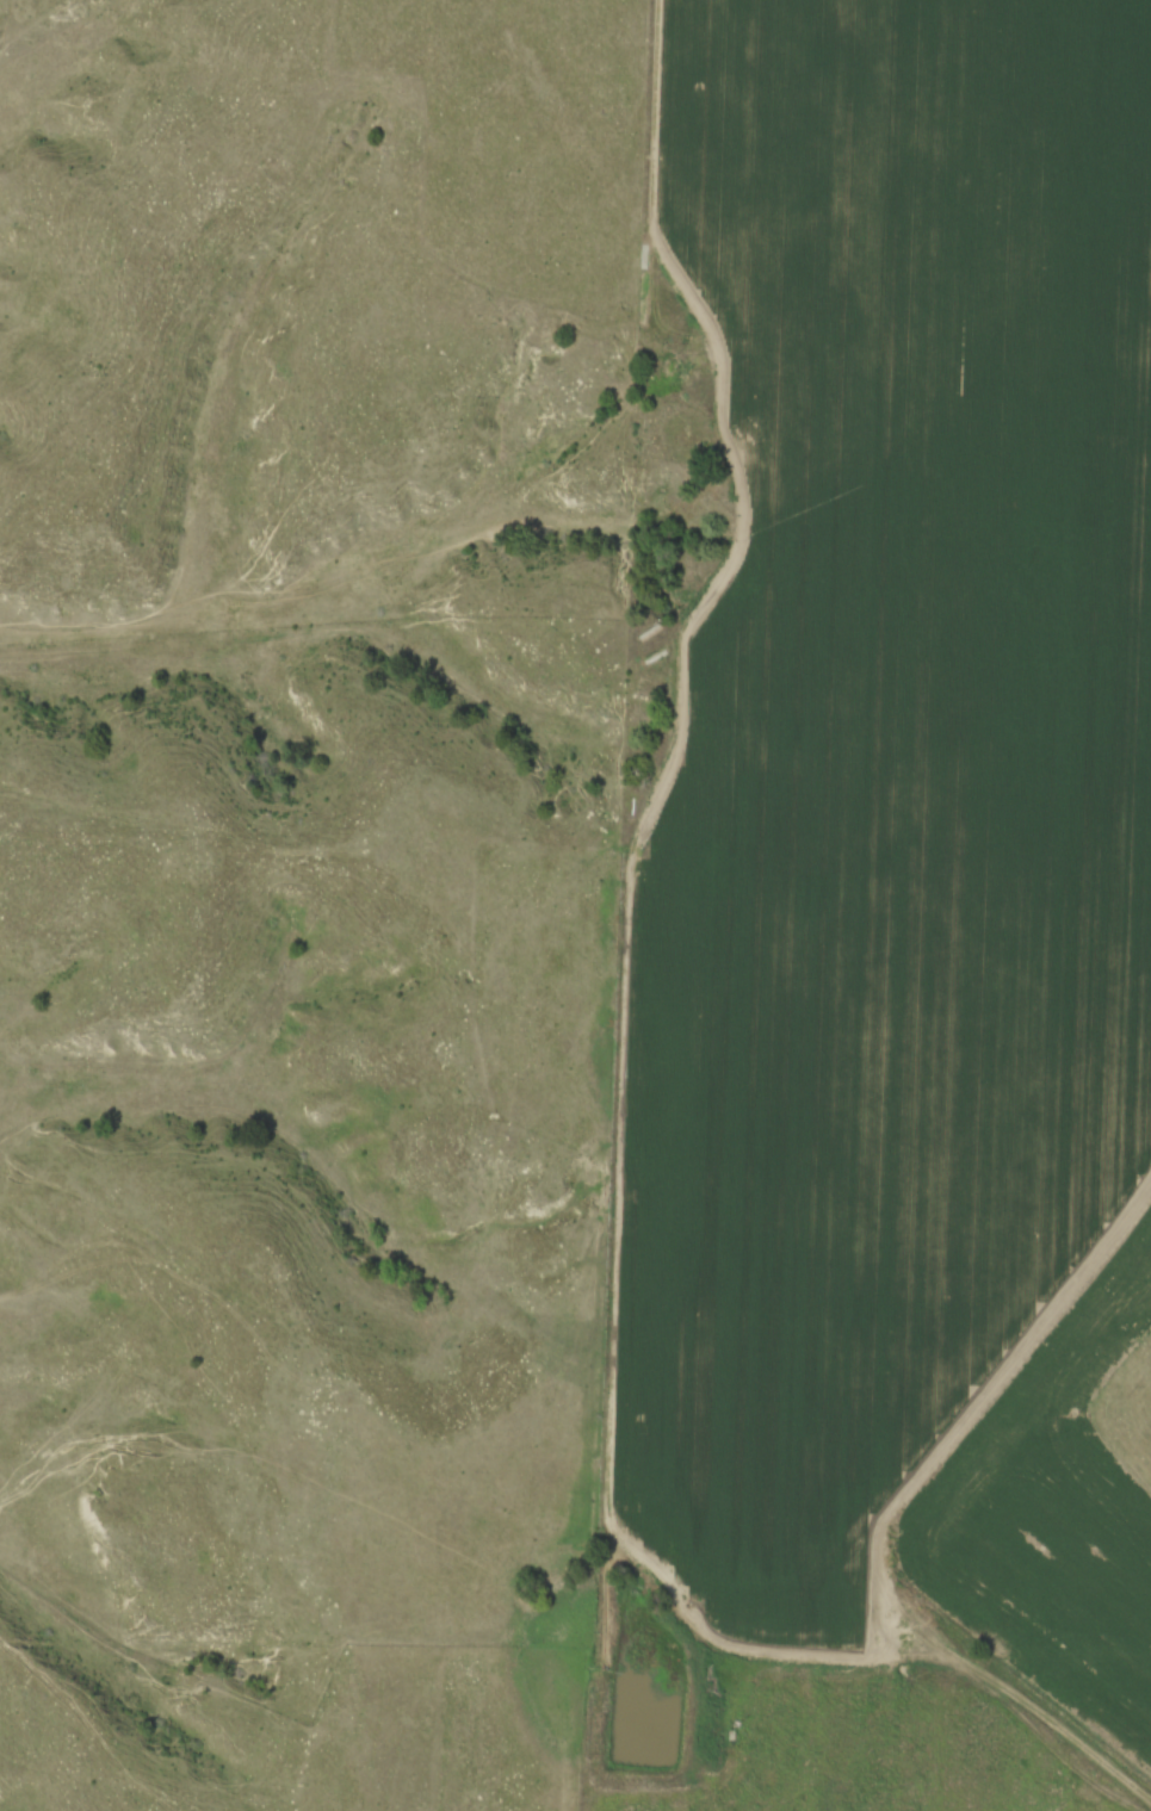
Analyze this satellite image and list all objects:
crop: (895, 762)
airport: (1052, 1521)

